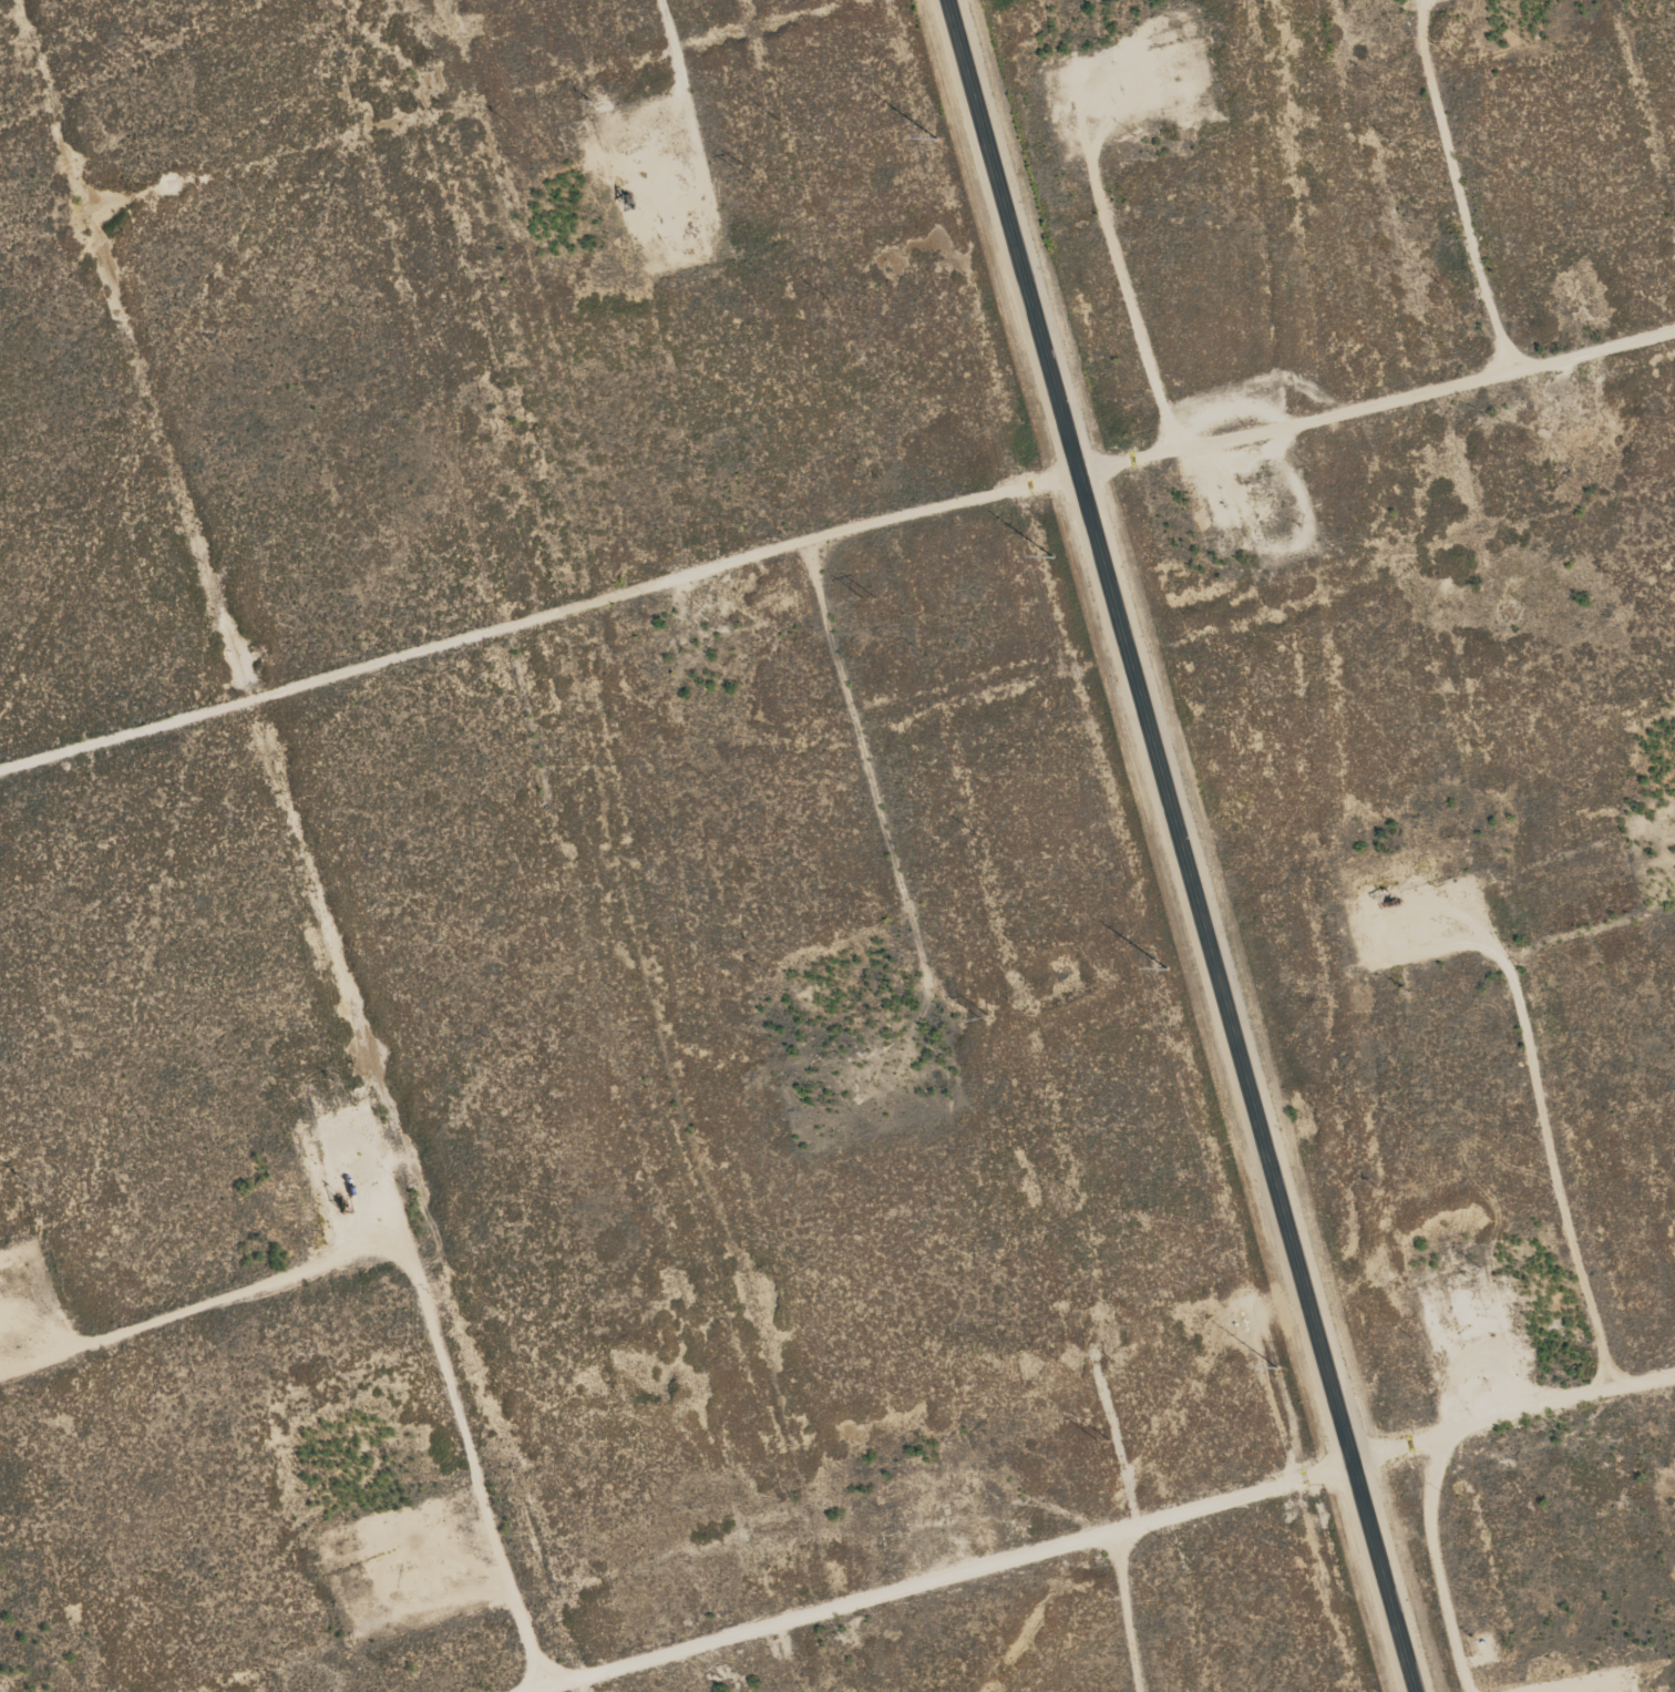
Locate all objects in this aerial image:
power tower: (754, 174)
road: (835, 541)
power tower: (872, 597)
road: (1181, 845)
petroleum well: (1396, 896)
power tower: (988, 1016)
power tower: (1104, 1438)
road: (1095, 1528)

